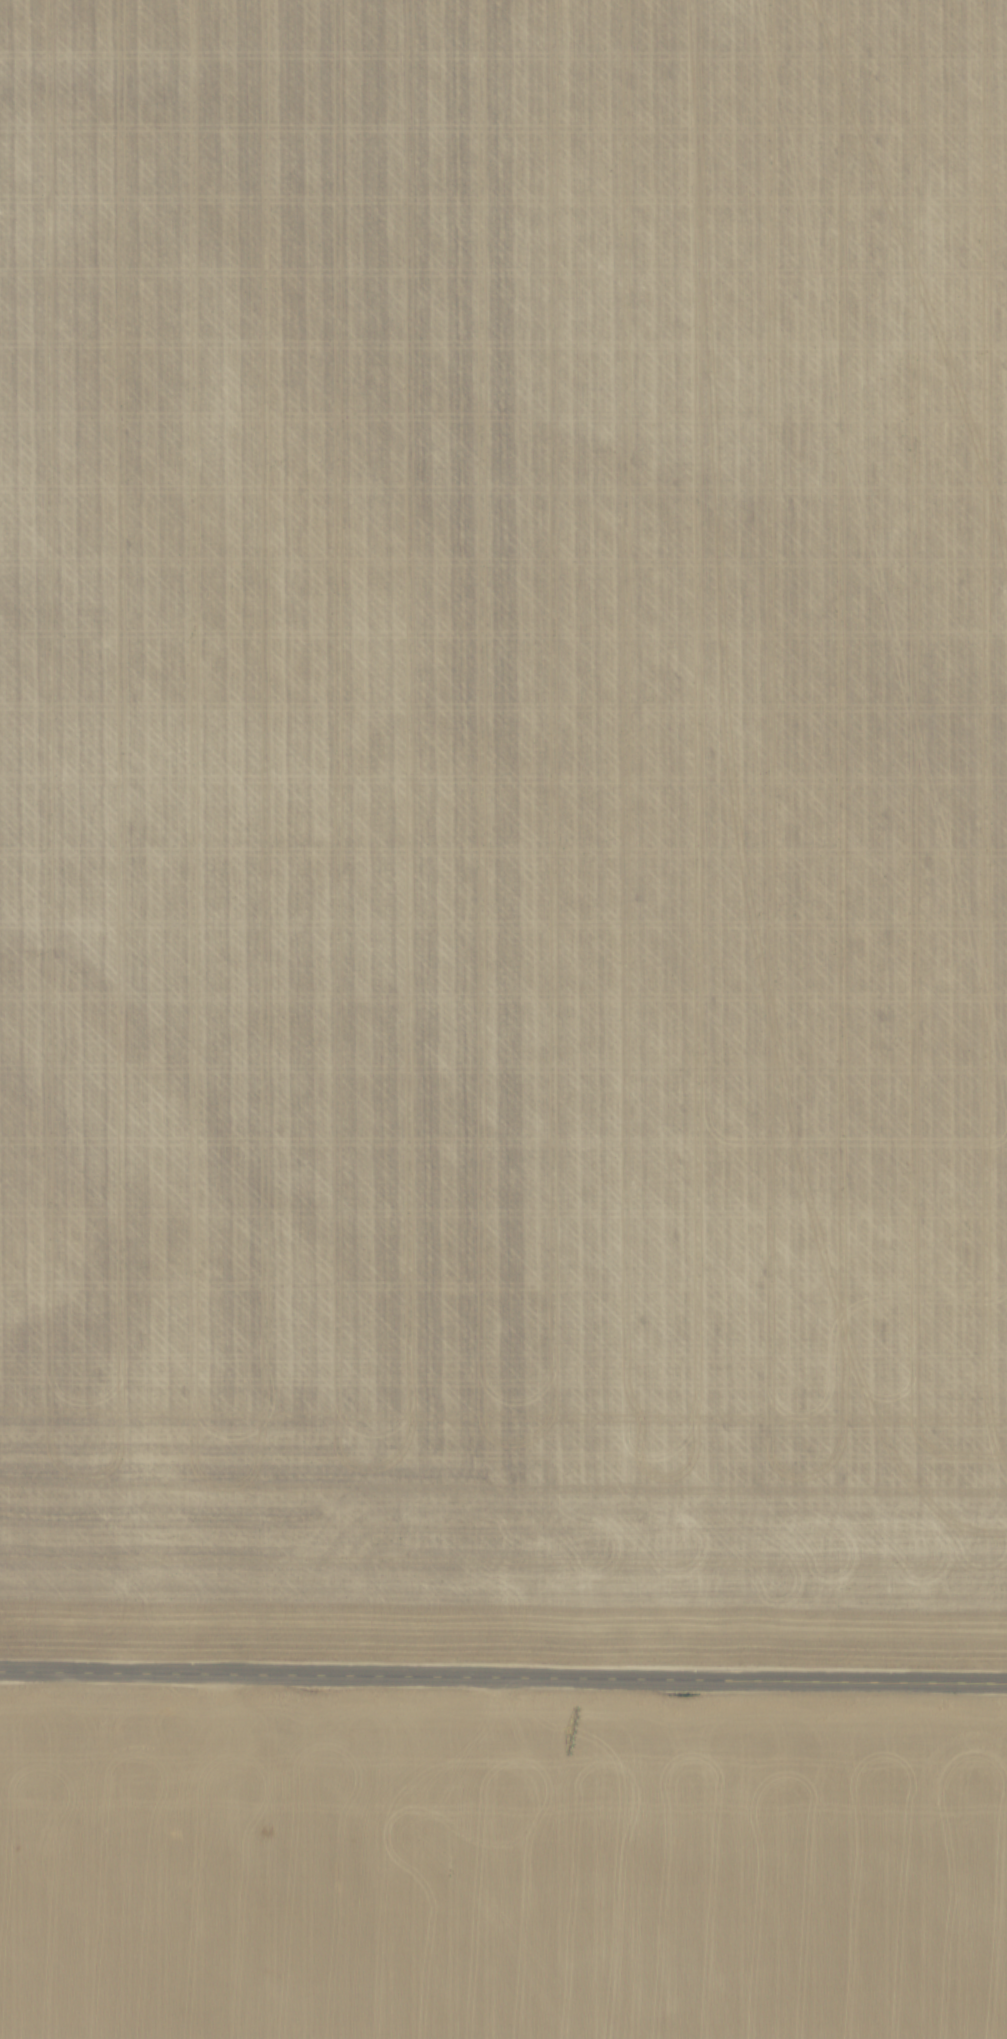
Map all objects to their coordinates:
road: (503, 1675)

